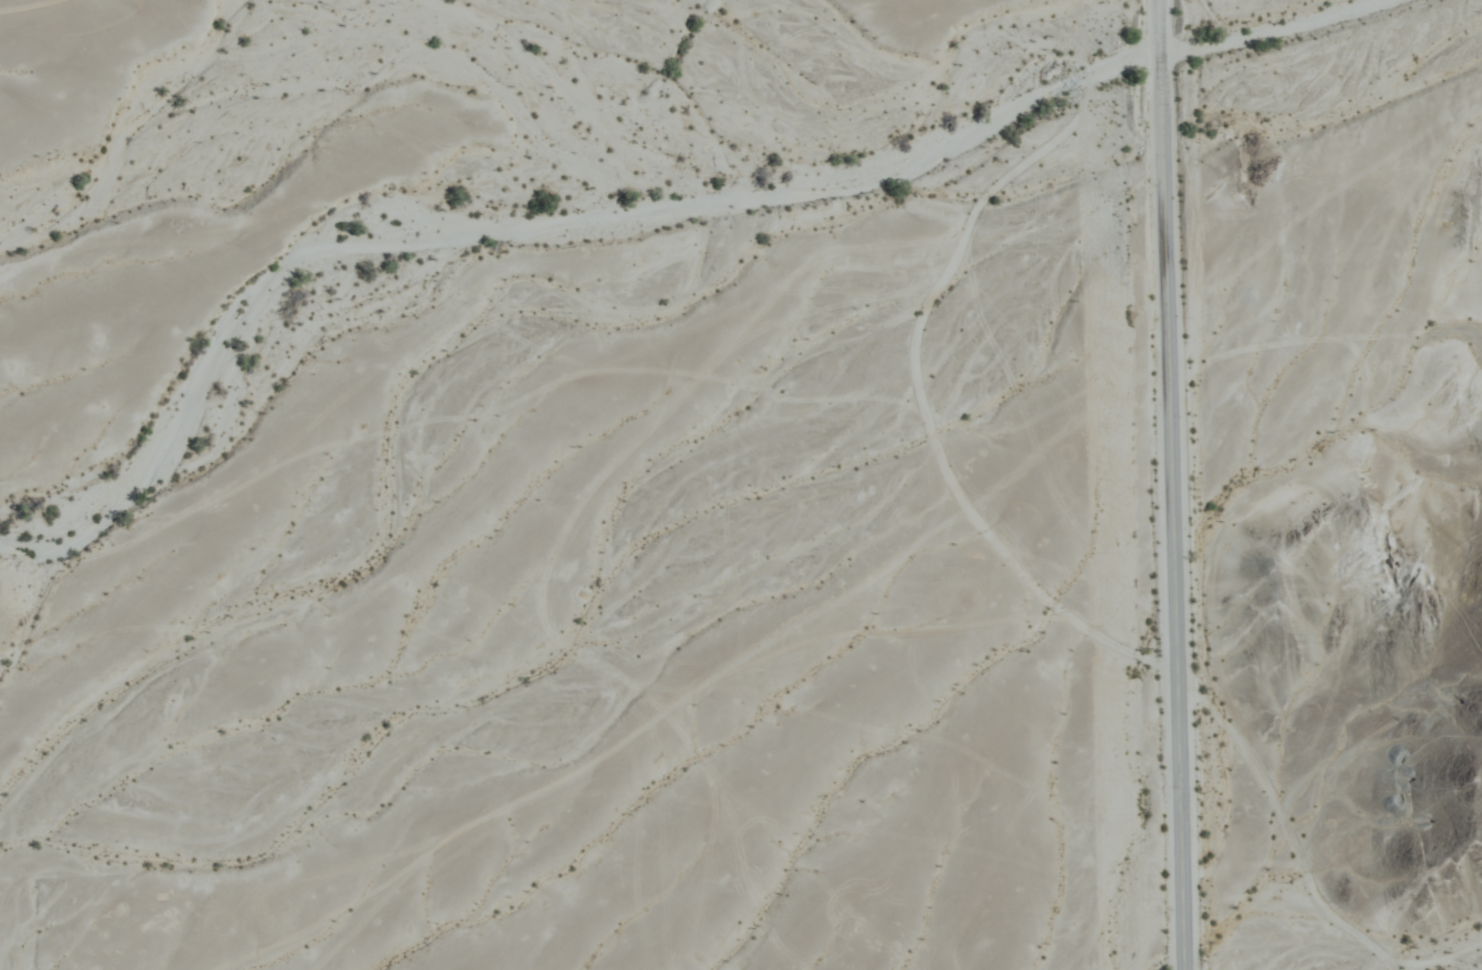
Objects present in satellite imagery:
road: (1171, 485)
building: (1171, 620)
road: (1284, 823)
road: (1450, 962)

